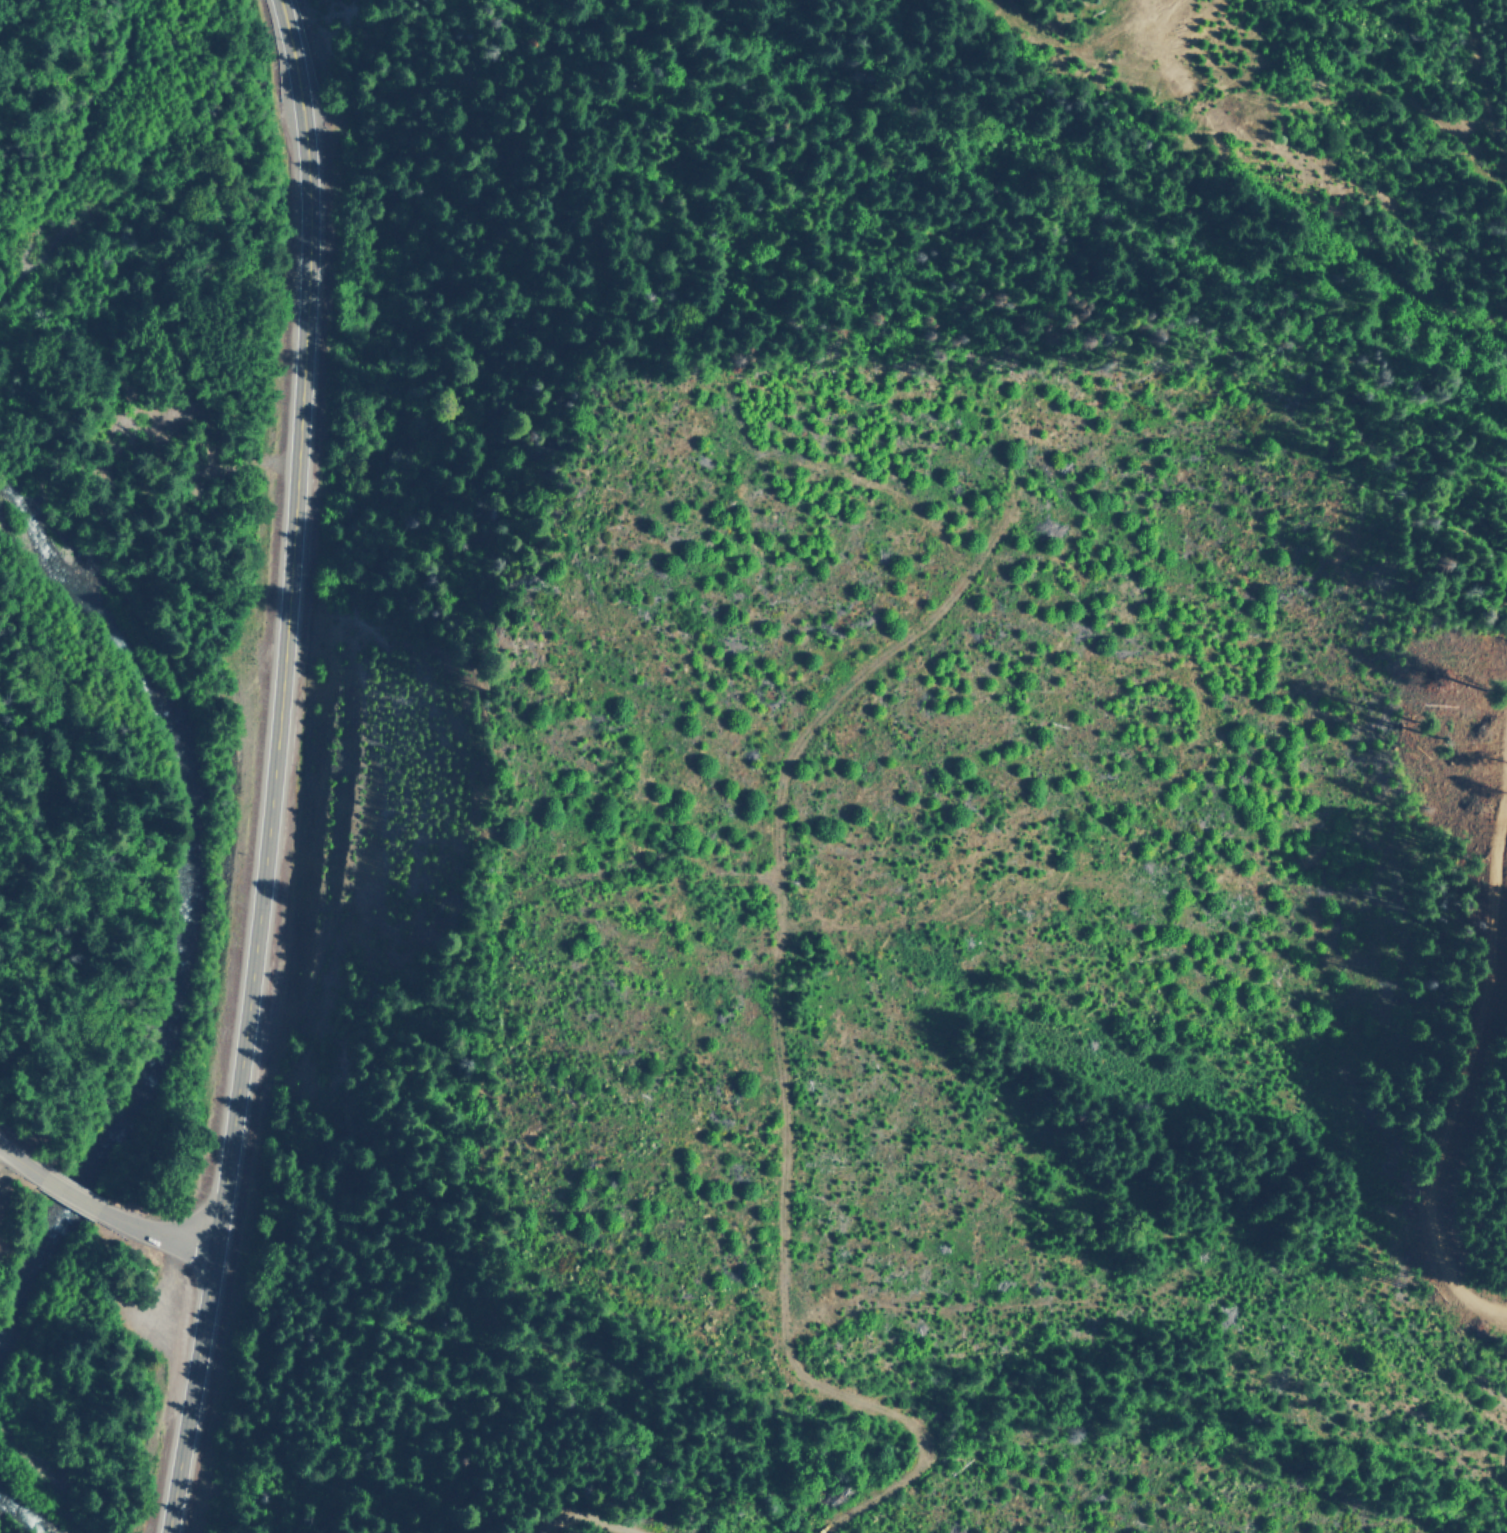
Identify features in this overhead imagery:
river: (92, 141)
road: (270, 768)
river: (188, 931)
road: (13, 1148)
road: (68, 1184)
road: (164, 1222)
river: (30, 1475)

